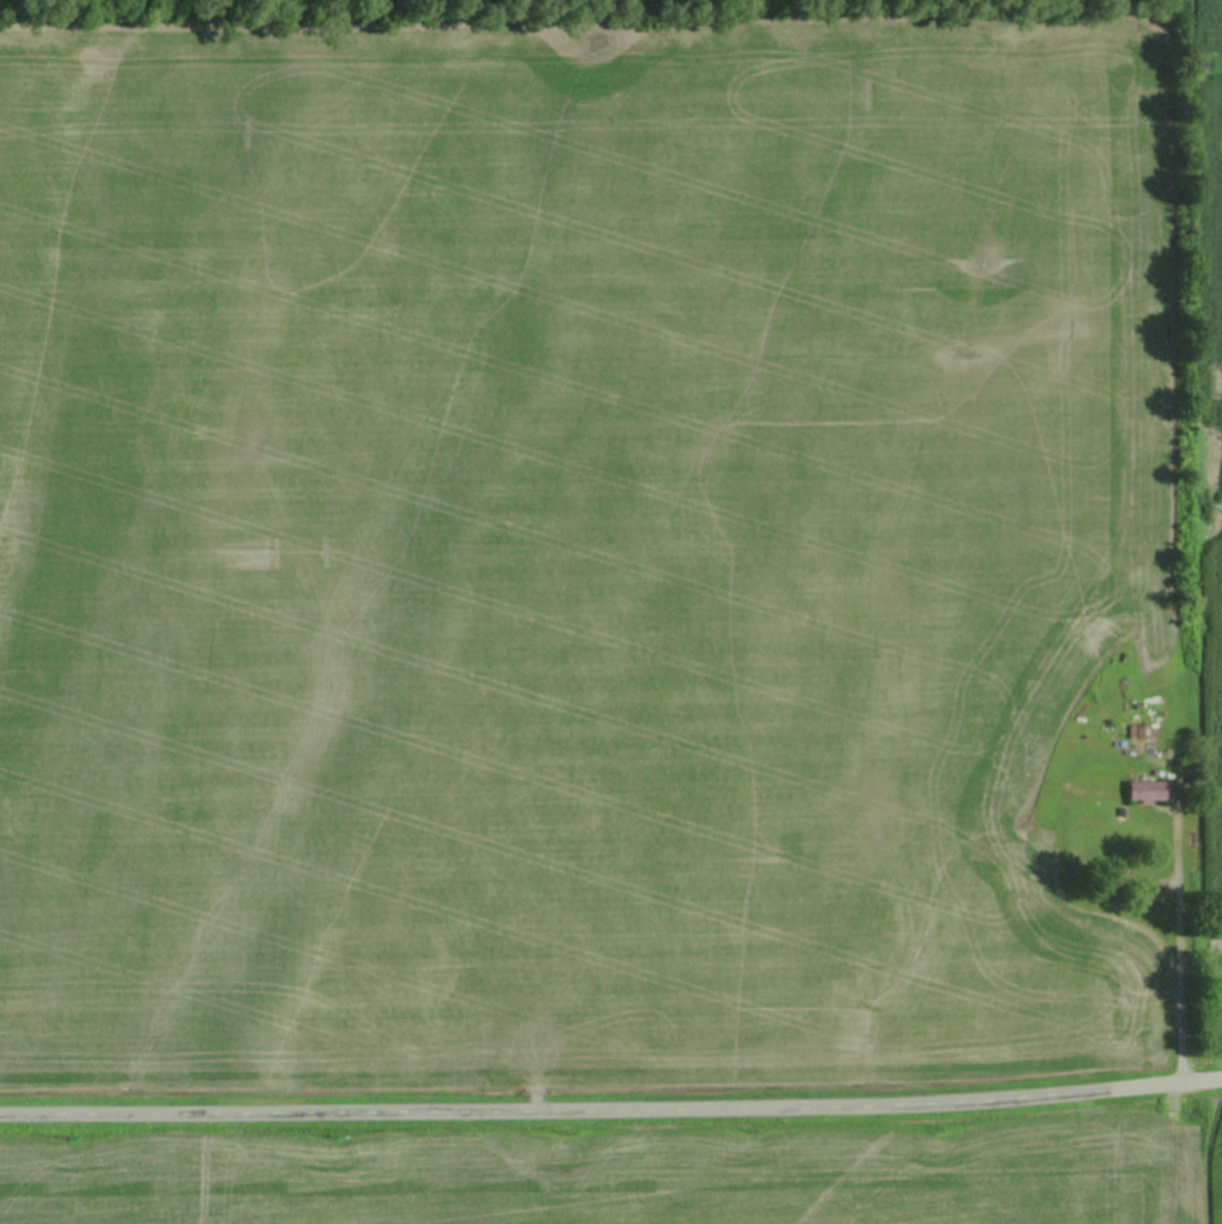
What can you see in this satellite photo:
building: (1146, 791)
road: (1175, 1084)
road: (564, 1108)

